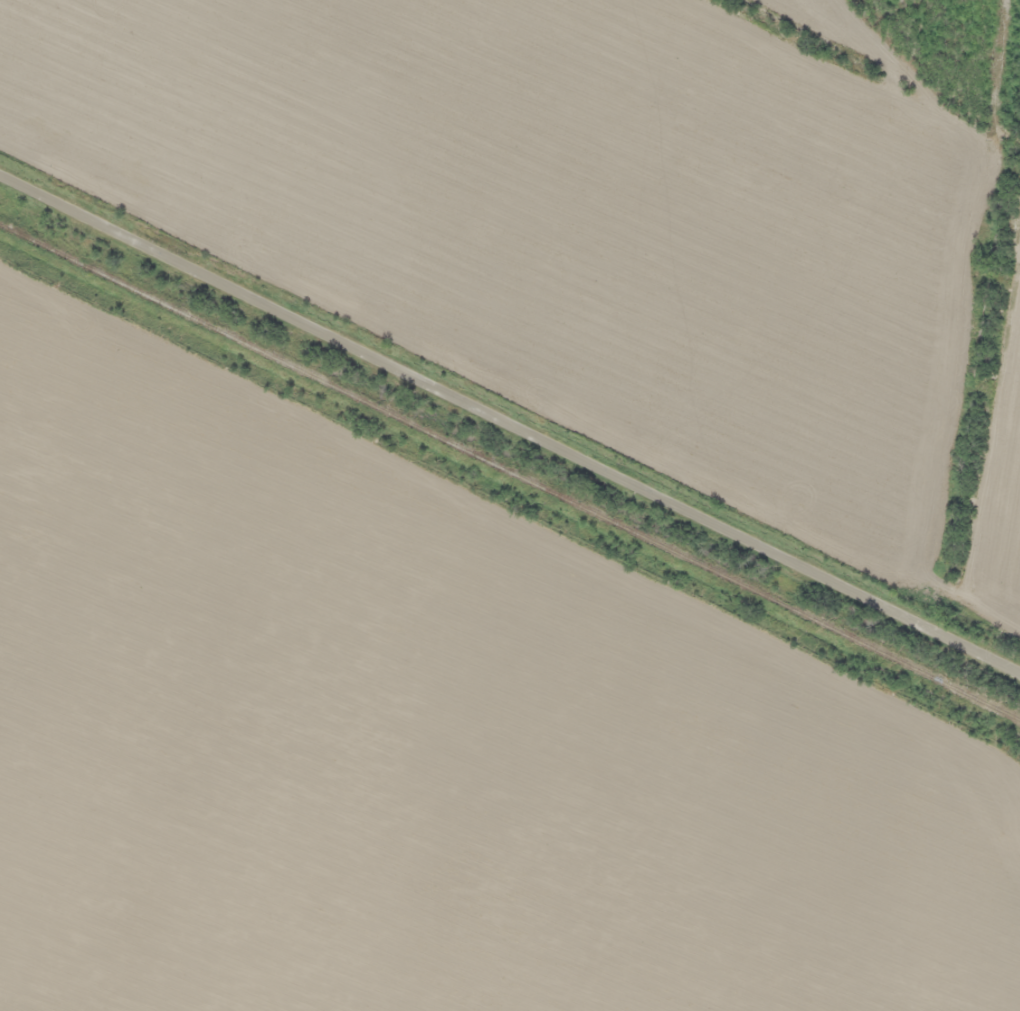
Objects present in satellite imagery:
road: (510, 415)
railway: (510, 472)

